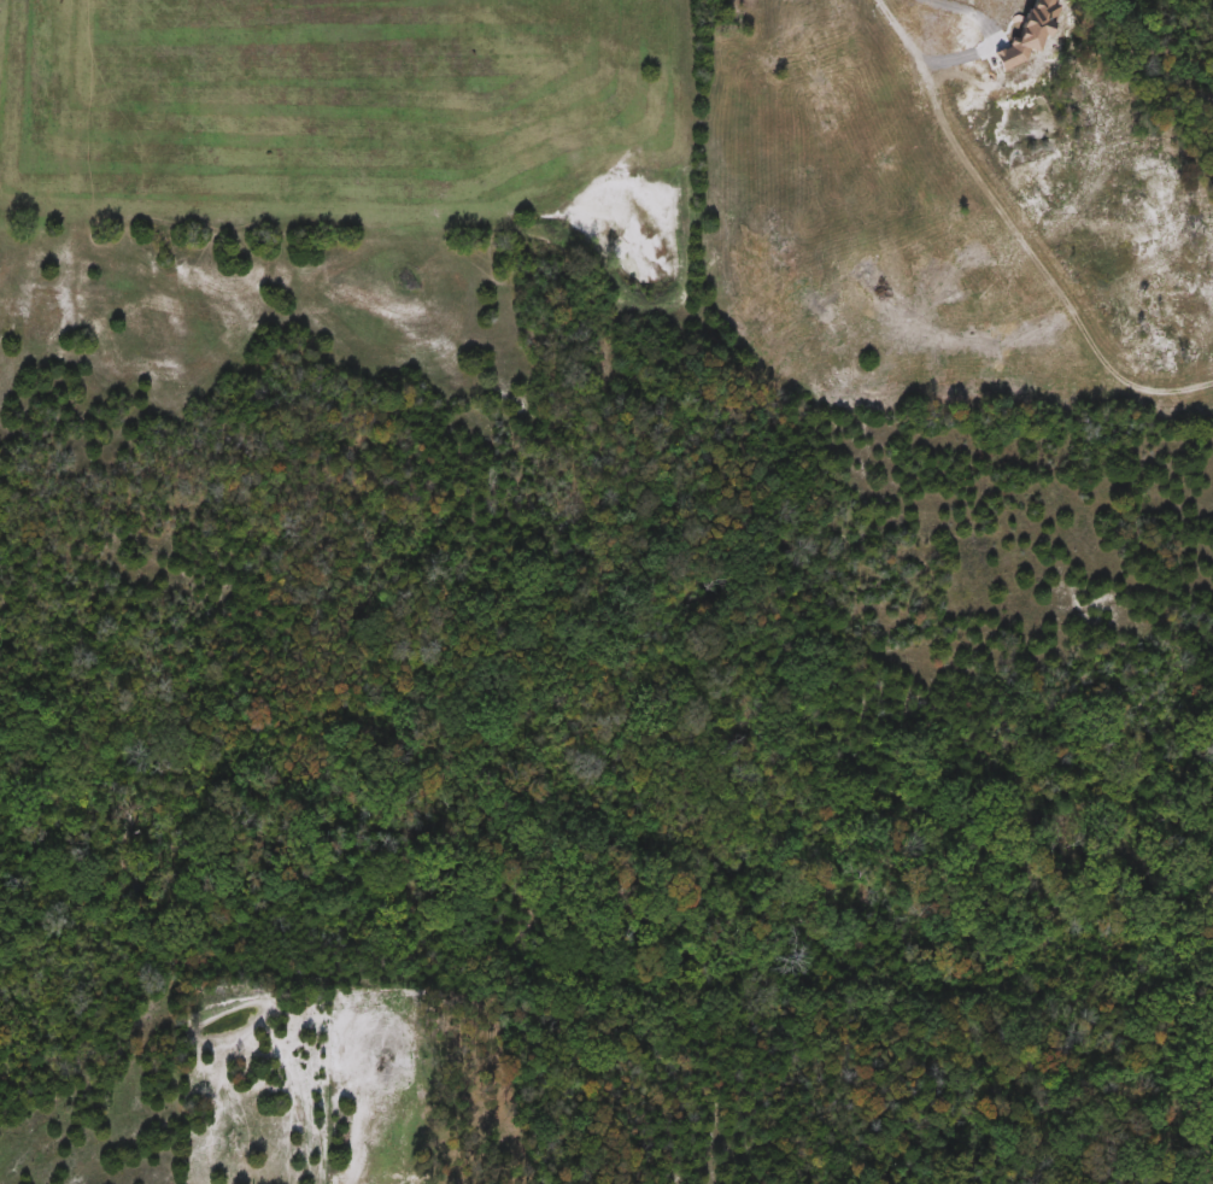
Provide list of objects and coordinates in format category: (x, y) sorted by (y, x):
road: (907, 36)

